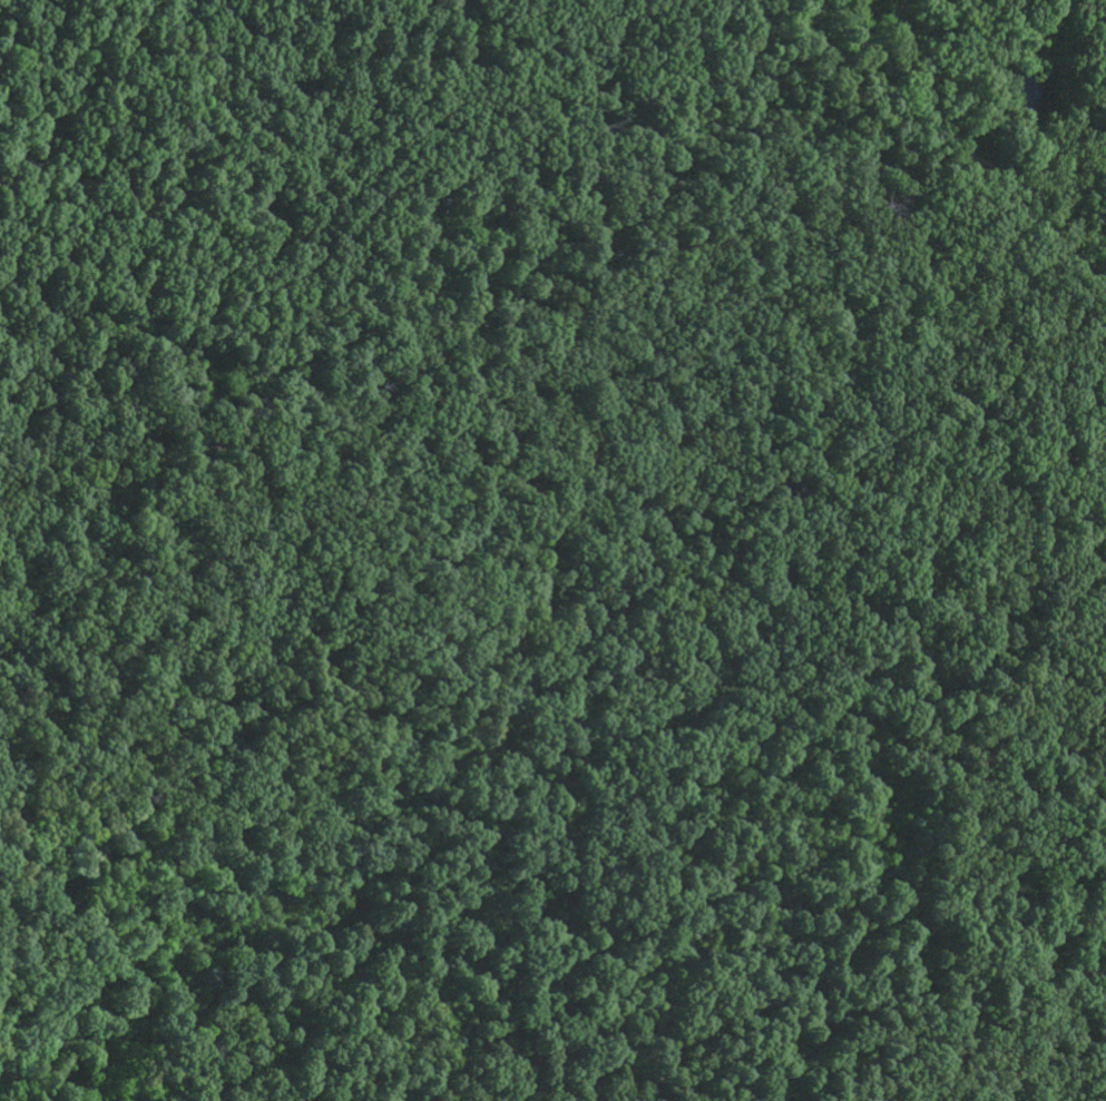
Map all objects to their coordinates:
road: (966, 148)

